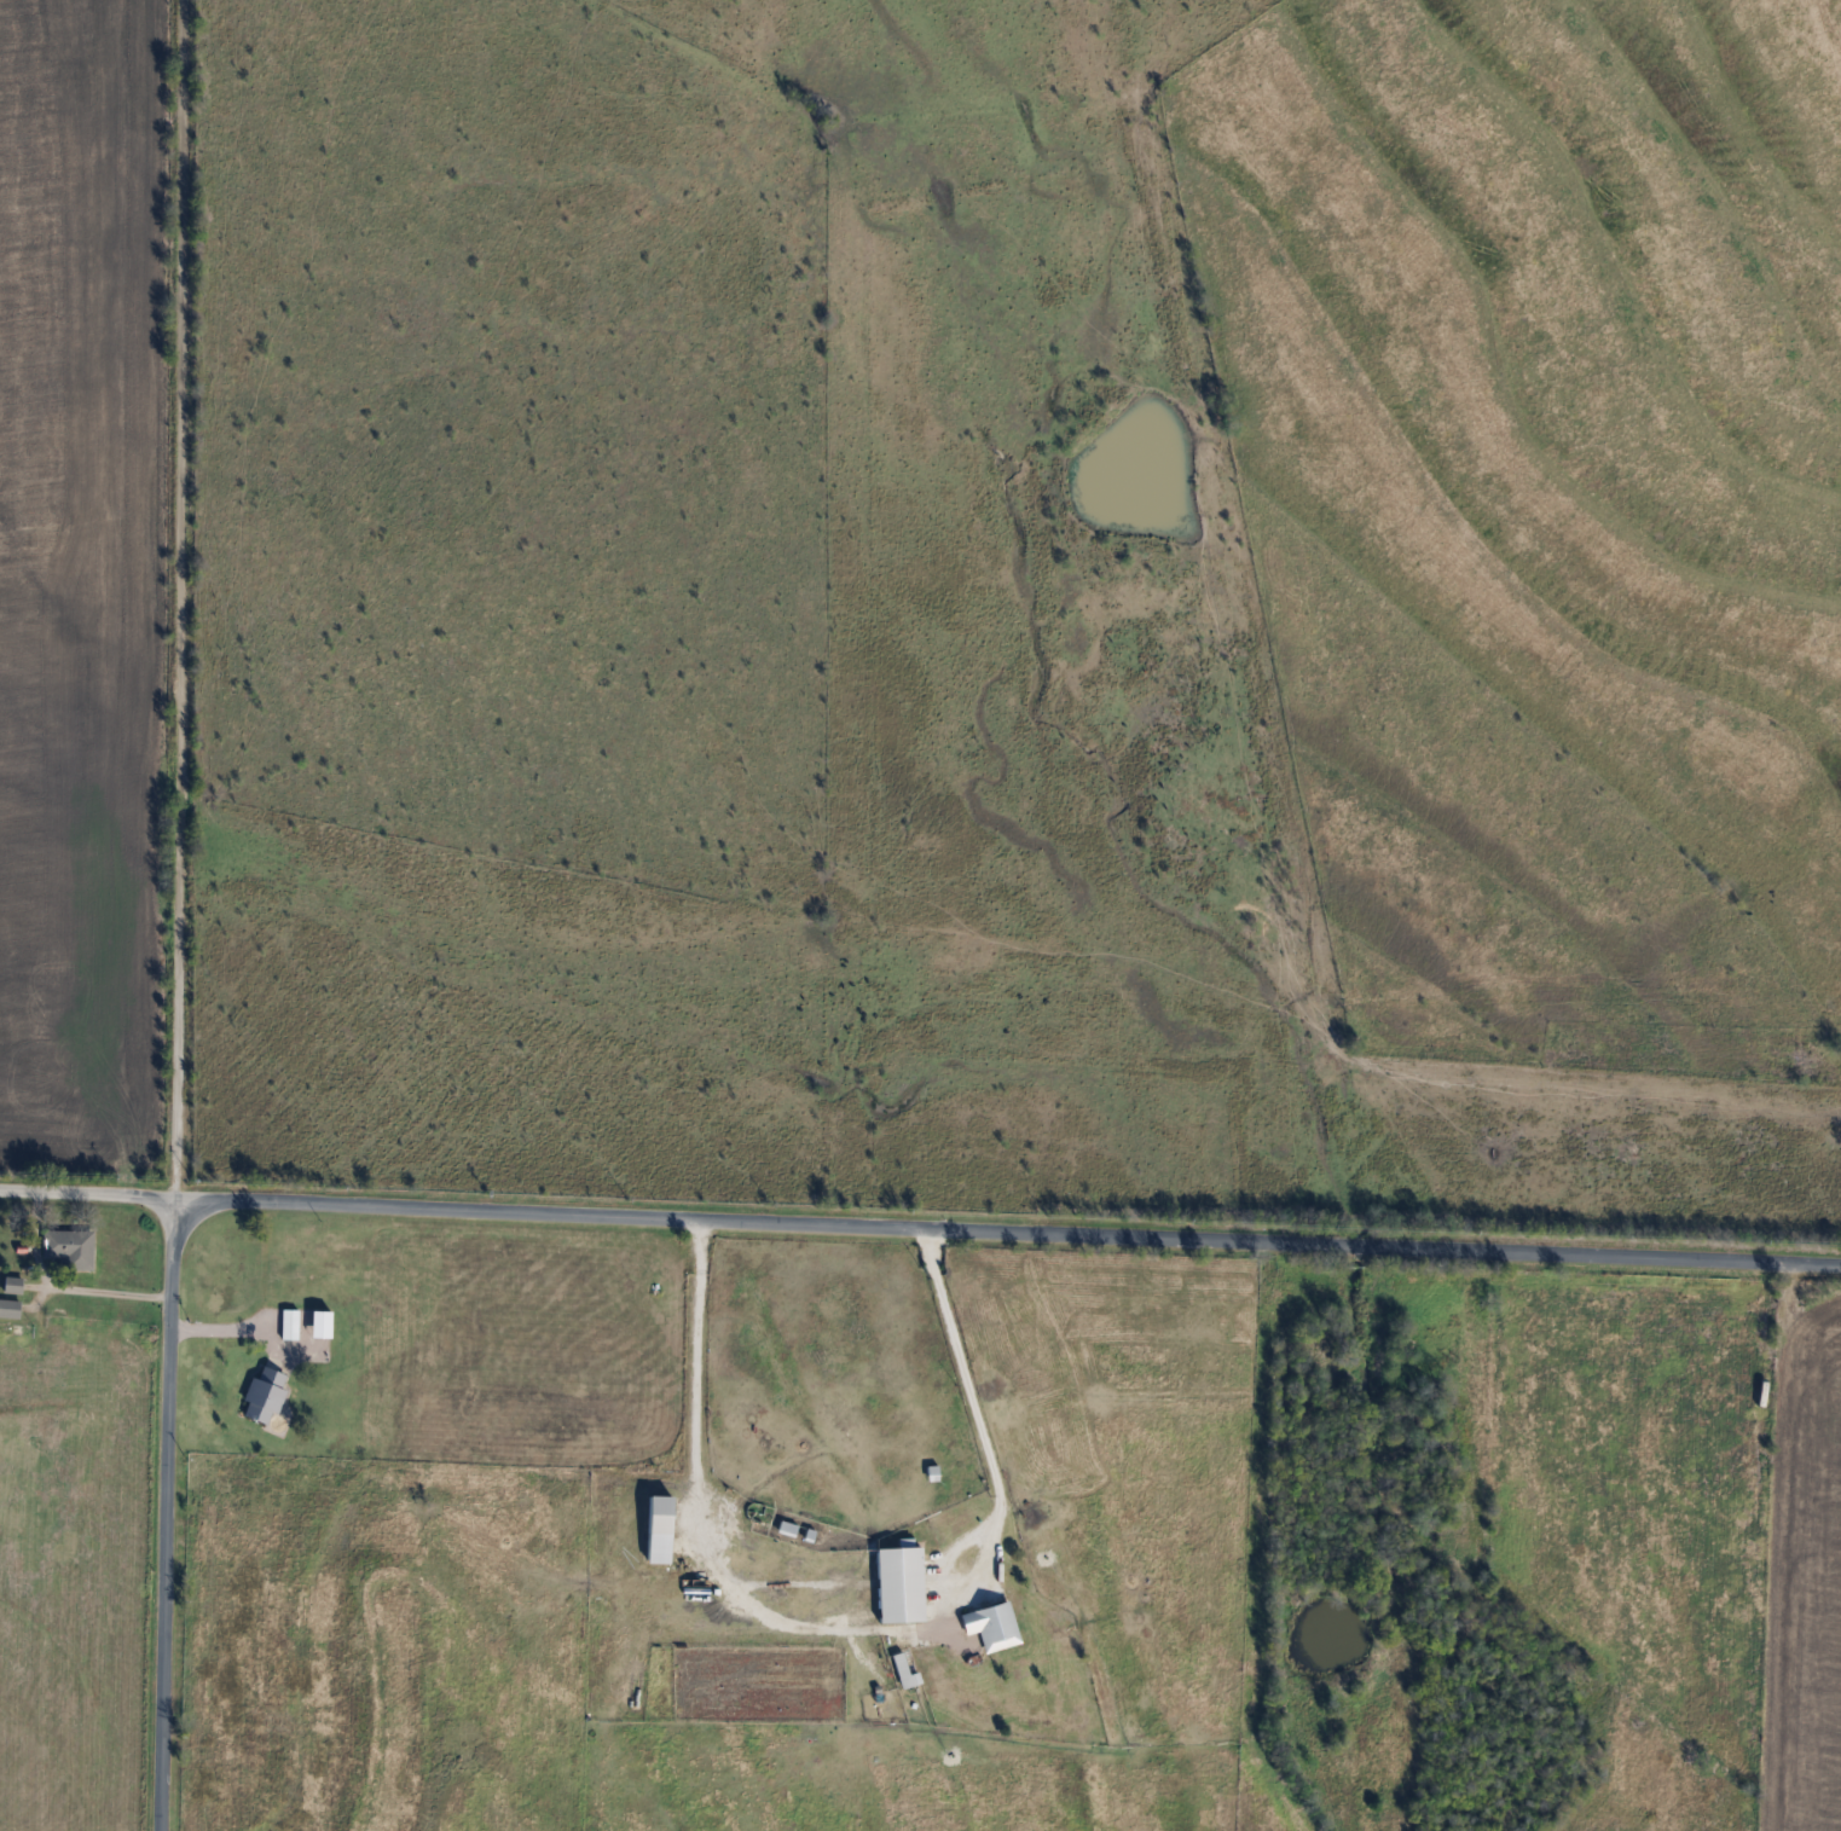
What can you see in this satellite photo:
road: (178, 598)
road: (88, 1193)
road: (1008, 1232)
building: (66, 1247)
building: (11, 1285)
building: (8, 1309)
building: (288, 1323)
building: (264, 1393)
road: (163, 1513)
building: (658, 1529)
building: (898, 1583)
building: (991, 1624)
road: (847, 1628)
building: (903, 1671)

